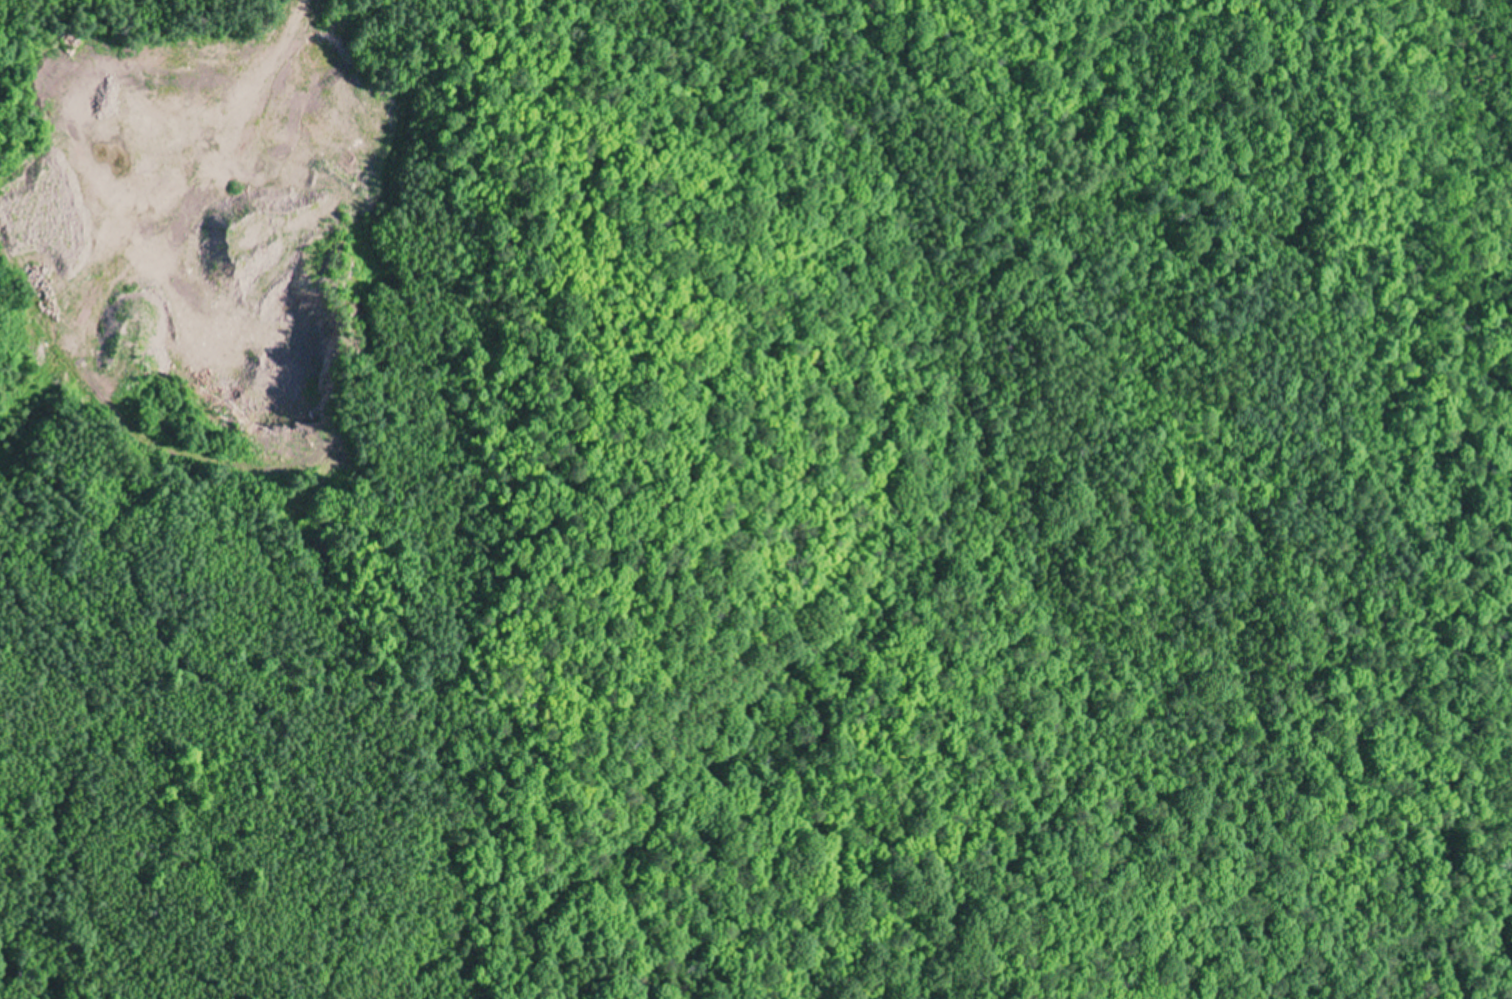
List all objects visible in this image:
quarry: (220, 504)

